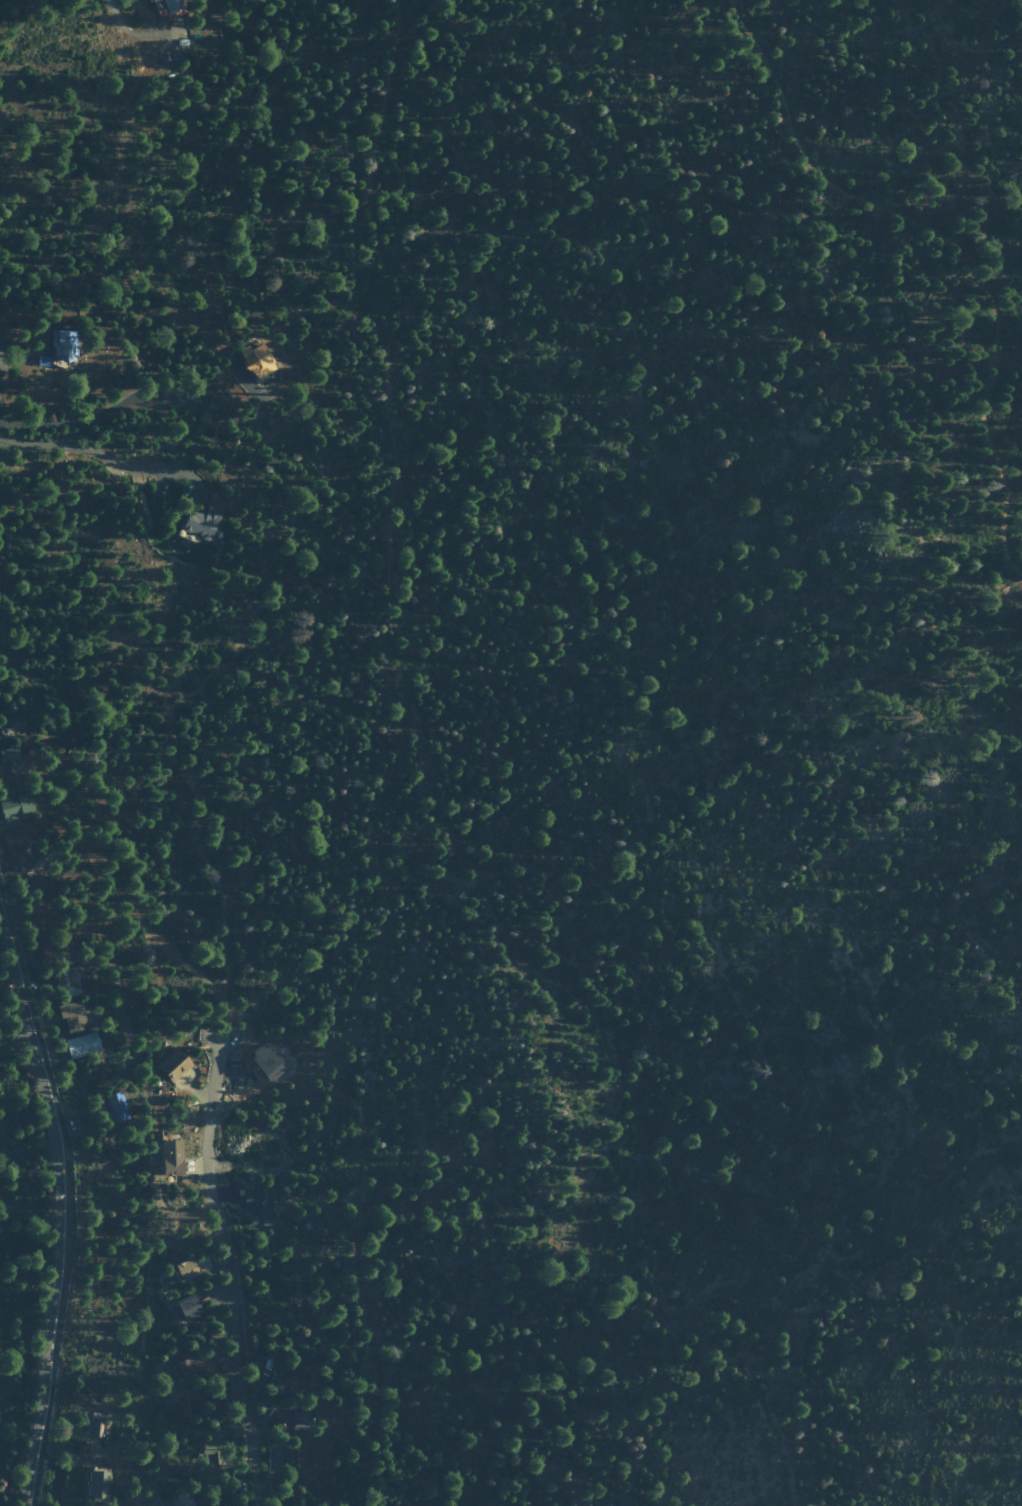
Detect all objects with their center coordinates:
building: (173, 4)
road: (949, 243)
building: (63, 343)
building: (258, 359)
road: (89, 417)
road: (250, 424)
road: (104, 456)
building: (203, 520)
building: (11, 722)
building: (12, 762)
building: (16, 806)
road: (443, 807)
building: (15, 849)
building: (38, 885)
building: (66, 981)
building: (72, 1016)
building: (82, 1044)
building: (172, 1065)
building: (115, 1106)
building: (172, 1157)
building: (254, 1204)
road: (58, 1216)
building: (186, 1269)
road: (225, 1274)
building: (189, 1308)
building: (187, 1369)
building: (289, 1384)
building: (295, 1419)
building: (92, 1423)
building: (311, 1458)
building: (97, 1484)
building: (181, 1500)

